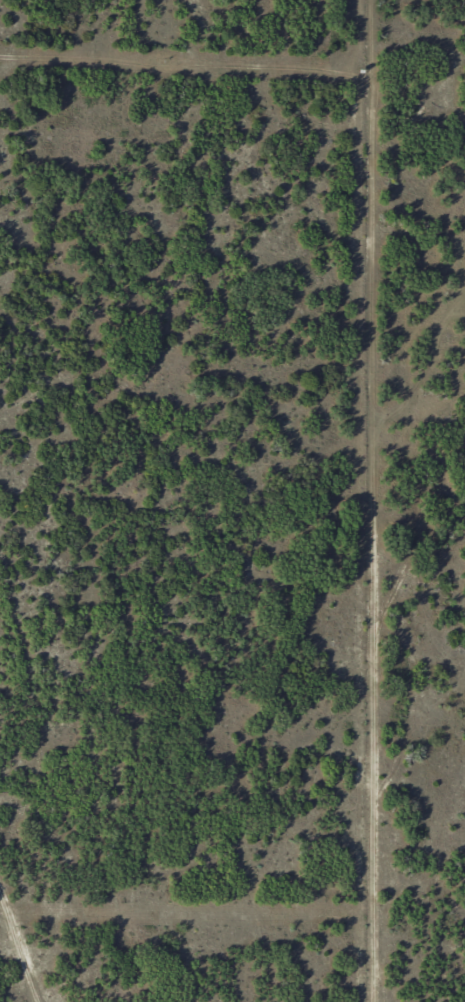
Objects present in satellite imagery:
road: (17, 962)

